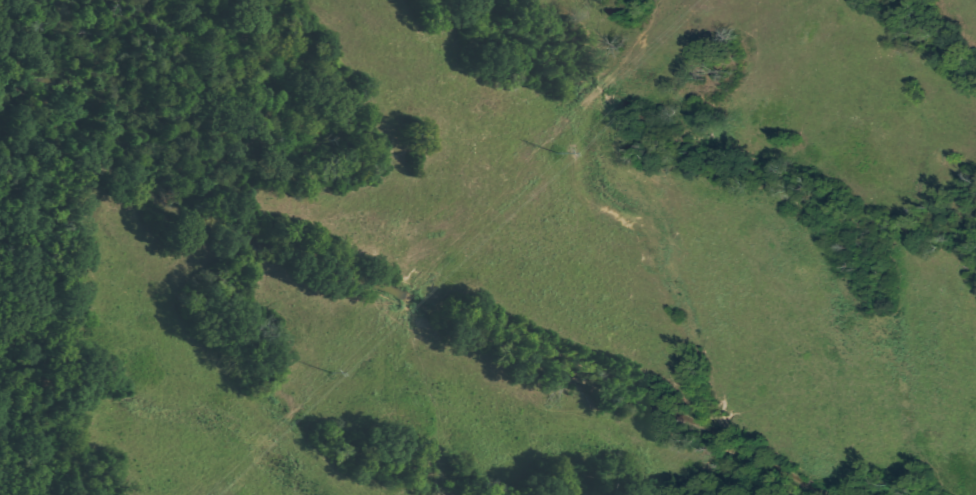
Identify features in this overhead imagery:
power tower: (556, 154)
power tower: (332, 373)

